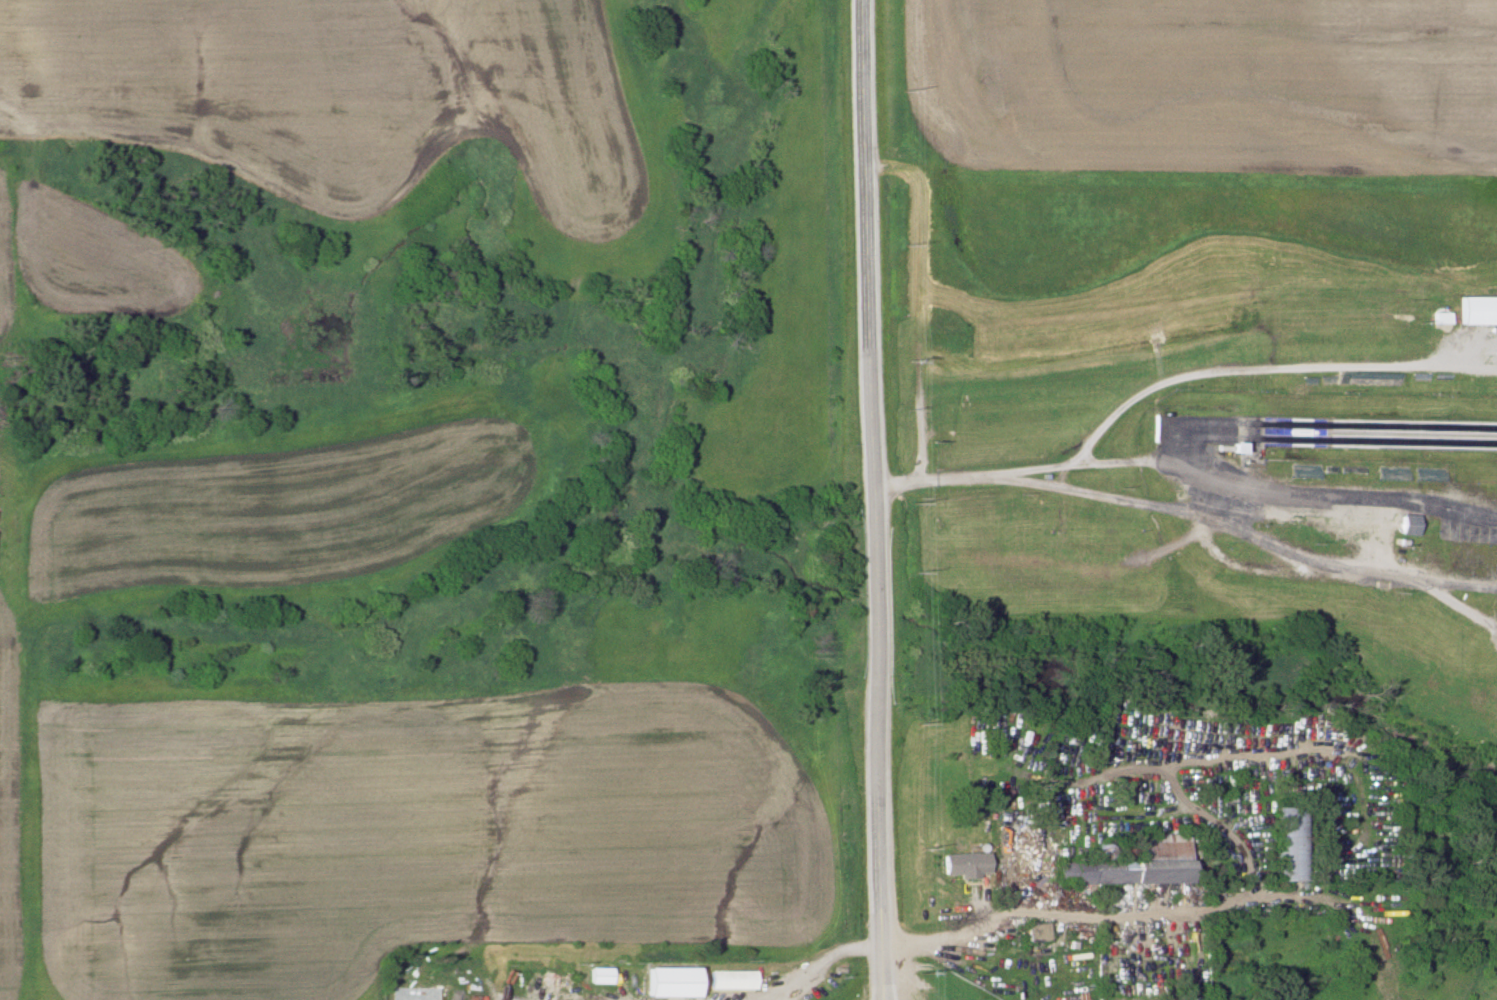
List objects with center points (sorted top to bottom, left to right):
building: (1476, 311)
road: (1164, 384)
road: (914, 397)
track: (1334, 430)
road: (1137, 461)
road: (1330, 497)
road: (869, 500)
building: (1407, 525)
road: (1237, 569)
road: (1457, 609)
building: (1289, 844)
building: (1137, 863)
building: (965, 864)
building: (1036, 933)
road: (918, 947)
building: (730, 980)
building: (542, 983)

